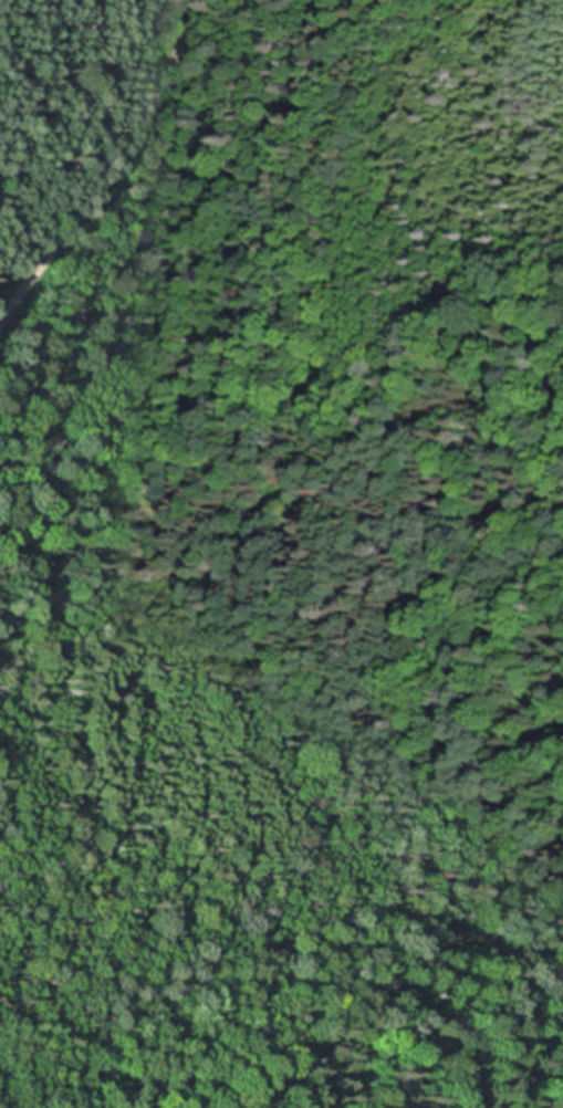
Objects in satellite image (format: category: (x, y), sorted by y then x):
road: (115, 170)

